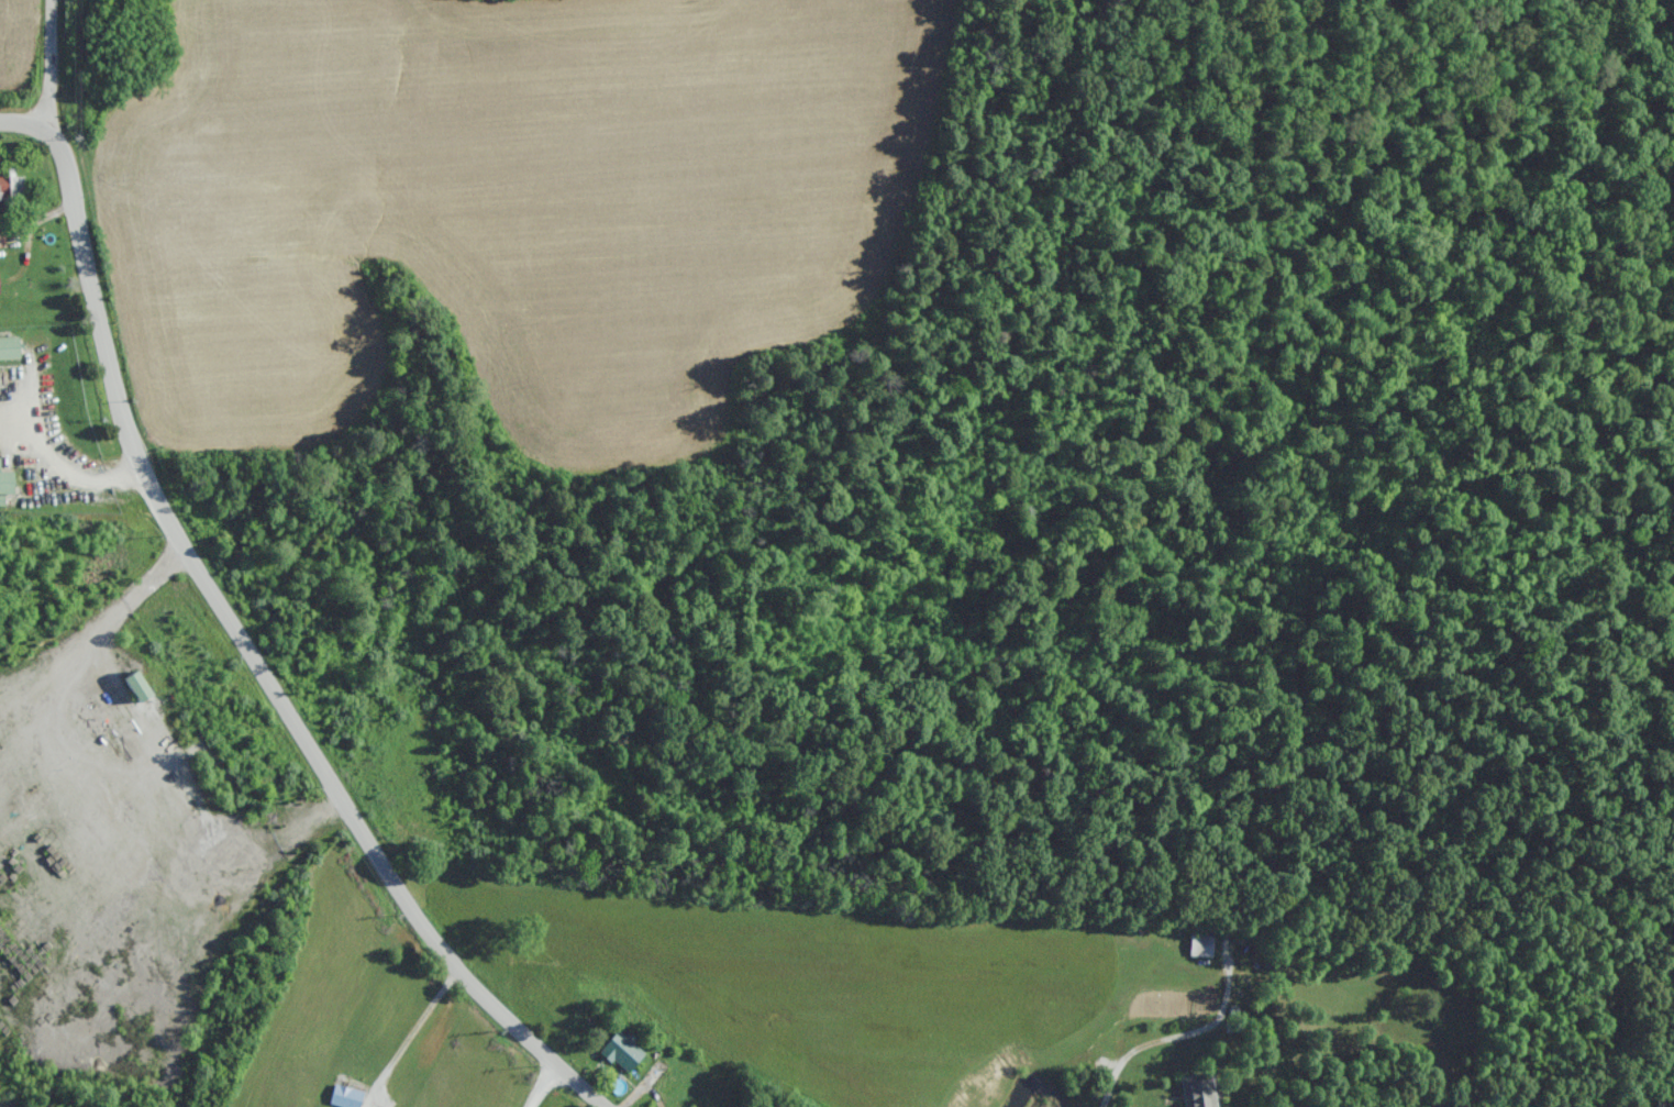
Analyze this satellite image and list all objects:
road: (49, 60)
road: (24, 122)
building: (10, 190)
building: (1, 237)
building: (8, 348)
building: (5, 484)
road: (250, 663)
building: (136, 688)
building: (1199, 947)
road: (410, 1029)
road: (1134, 1051)
building: (621, 1052)
road: (544, 1076)
building: (1197, 1091)
building: (345, 1097)

